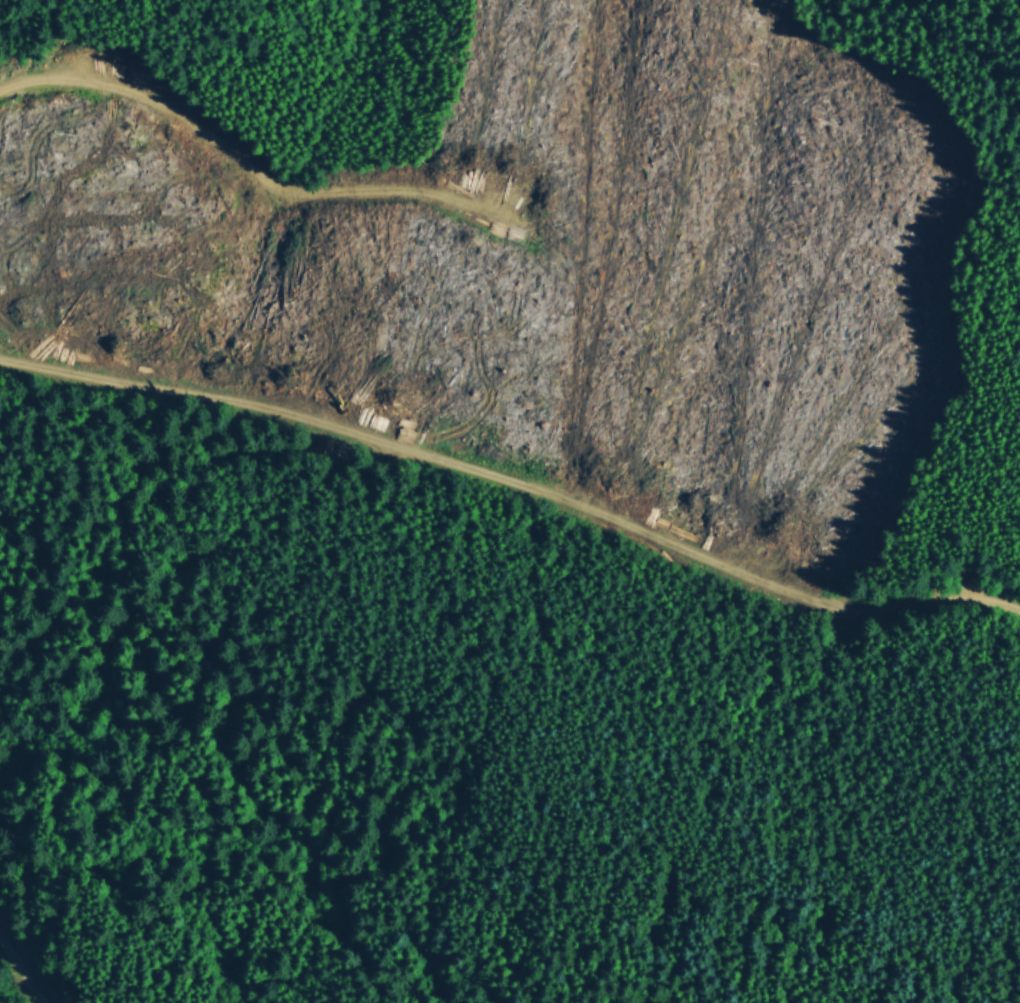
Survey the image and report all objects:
road: (239, 155)
road: (515, 481)
road: (27, 969)

